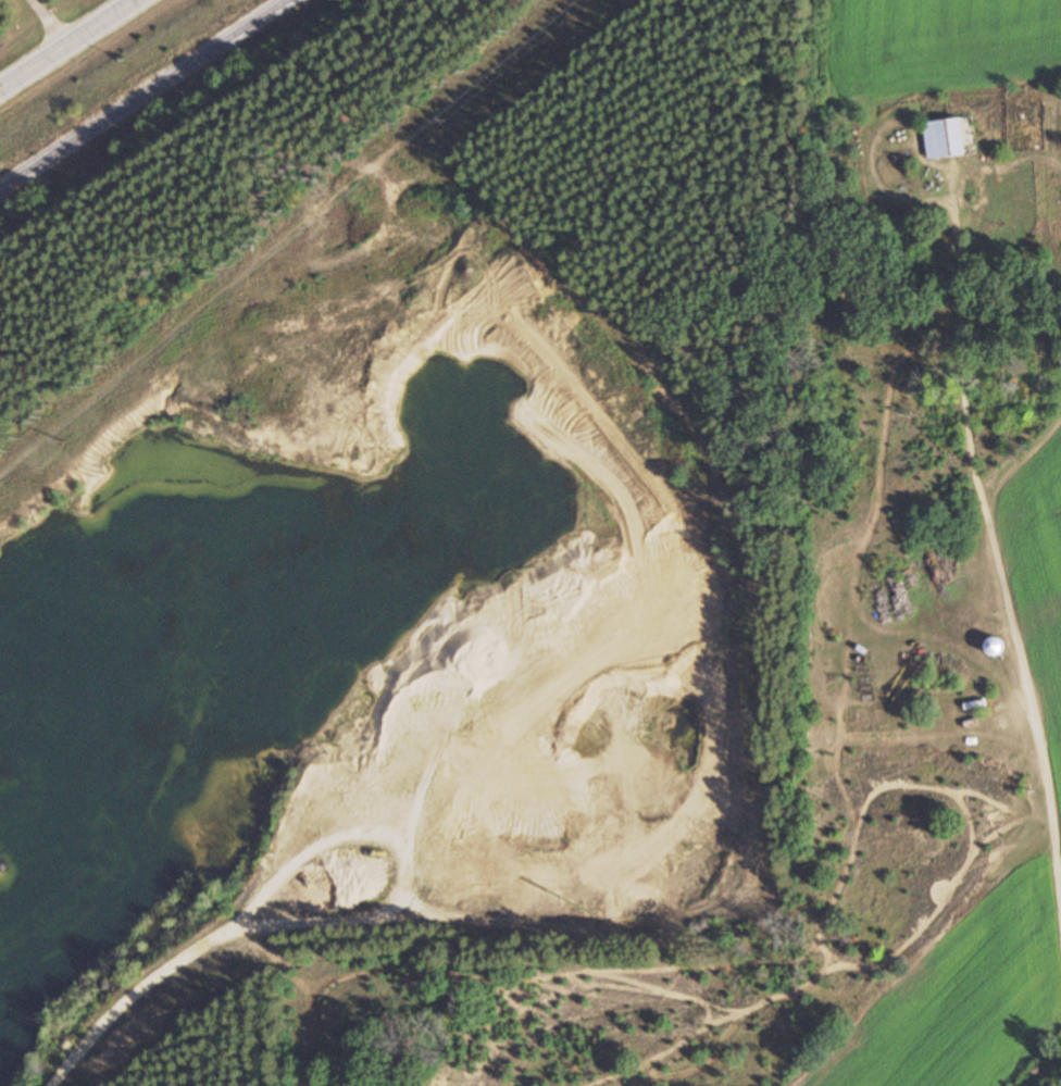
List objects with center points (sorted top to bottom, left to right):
road: (66, 43)
railway: (142, 93)
building: (944, 138)
building: (993, 647)
road: (856, 648)

